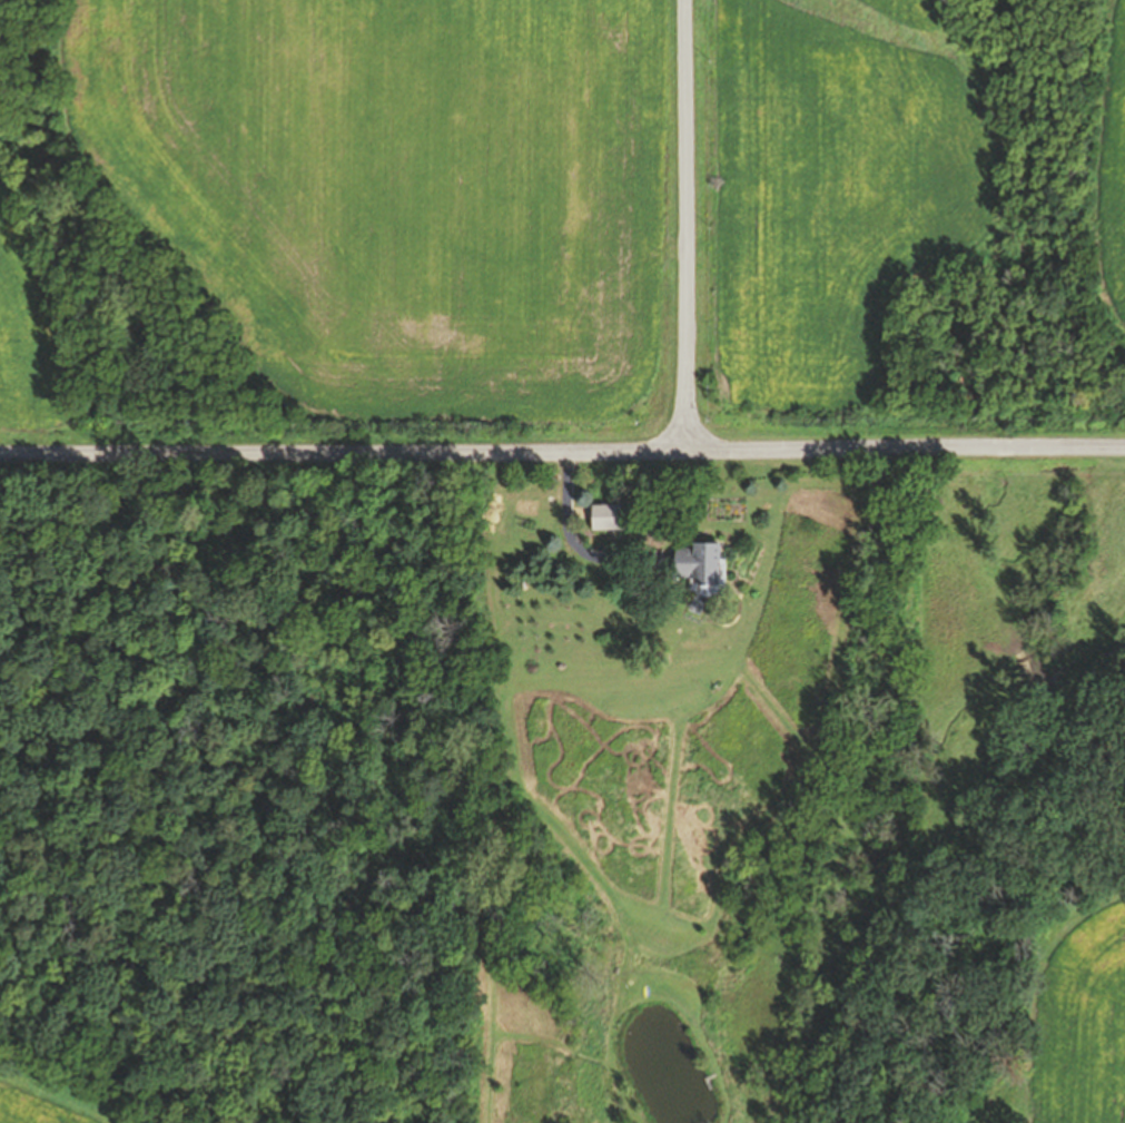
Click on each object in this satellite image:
road: (687, 224)
road: (562, 449)
building: (606, 516)
building: (697, 562)

